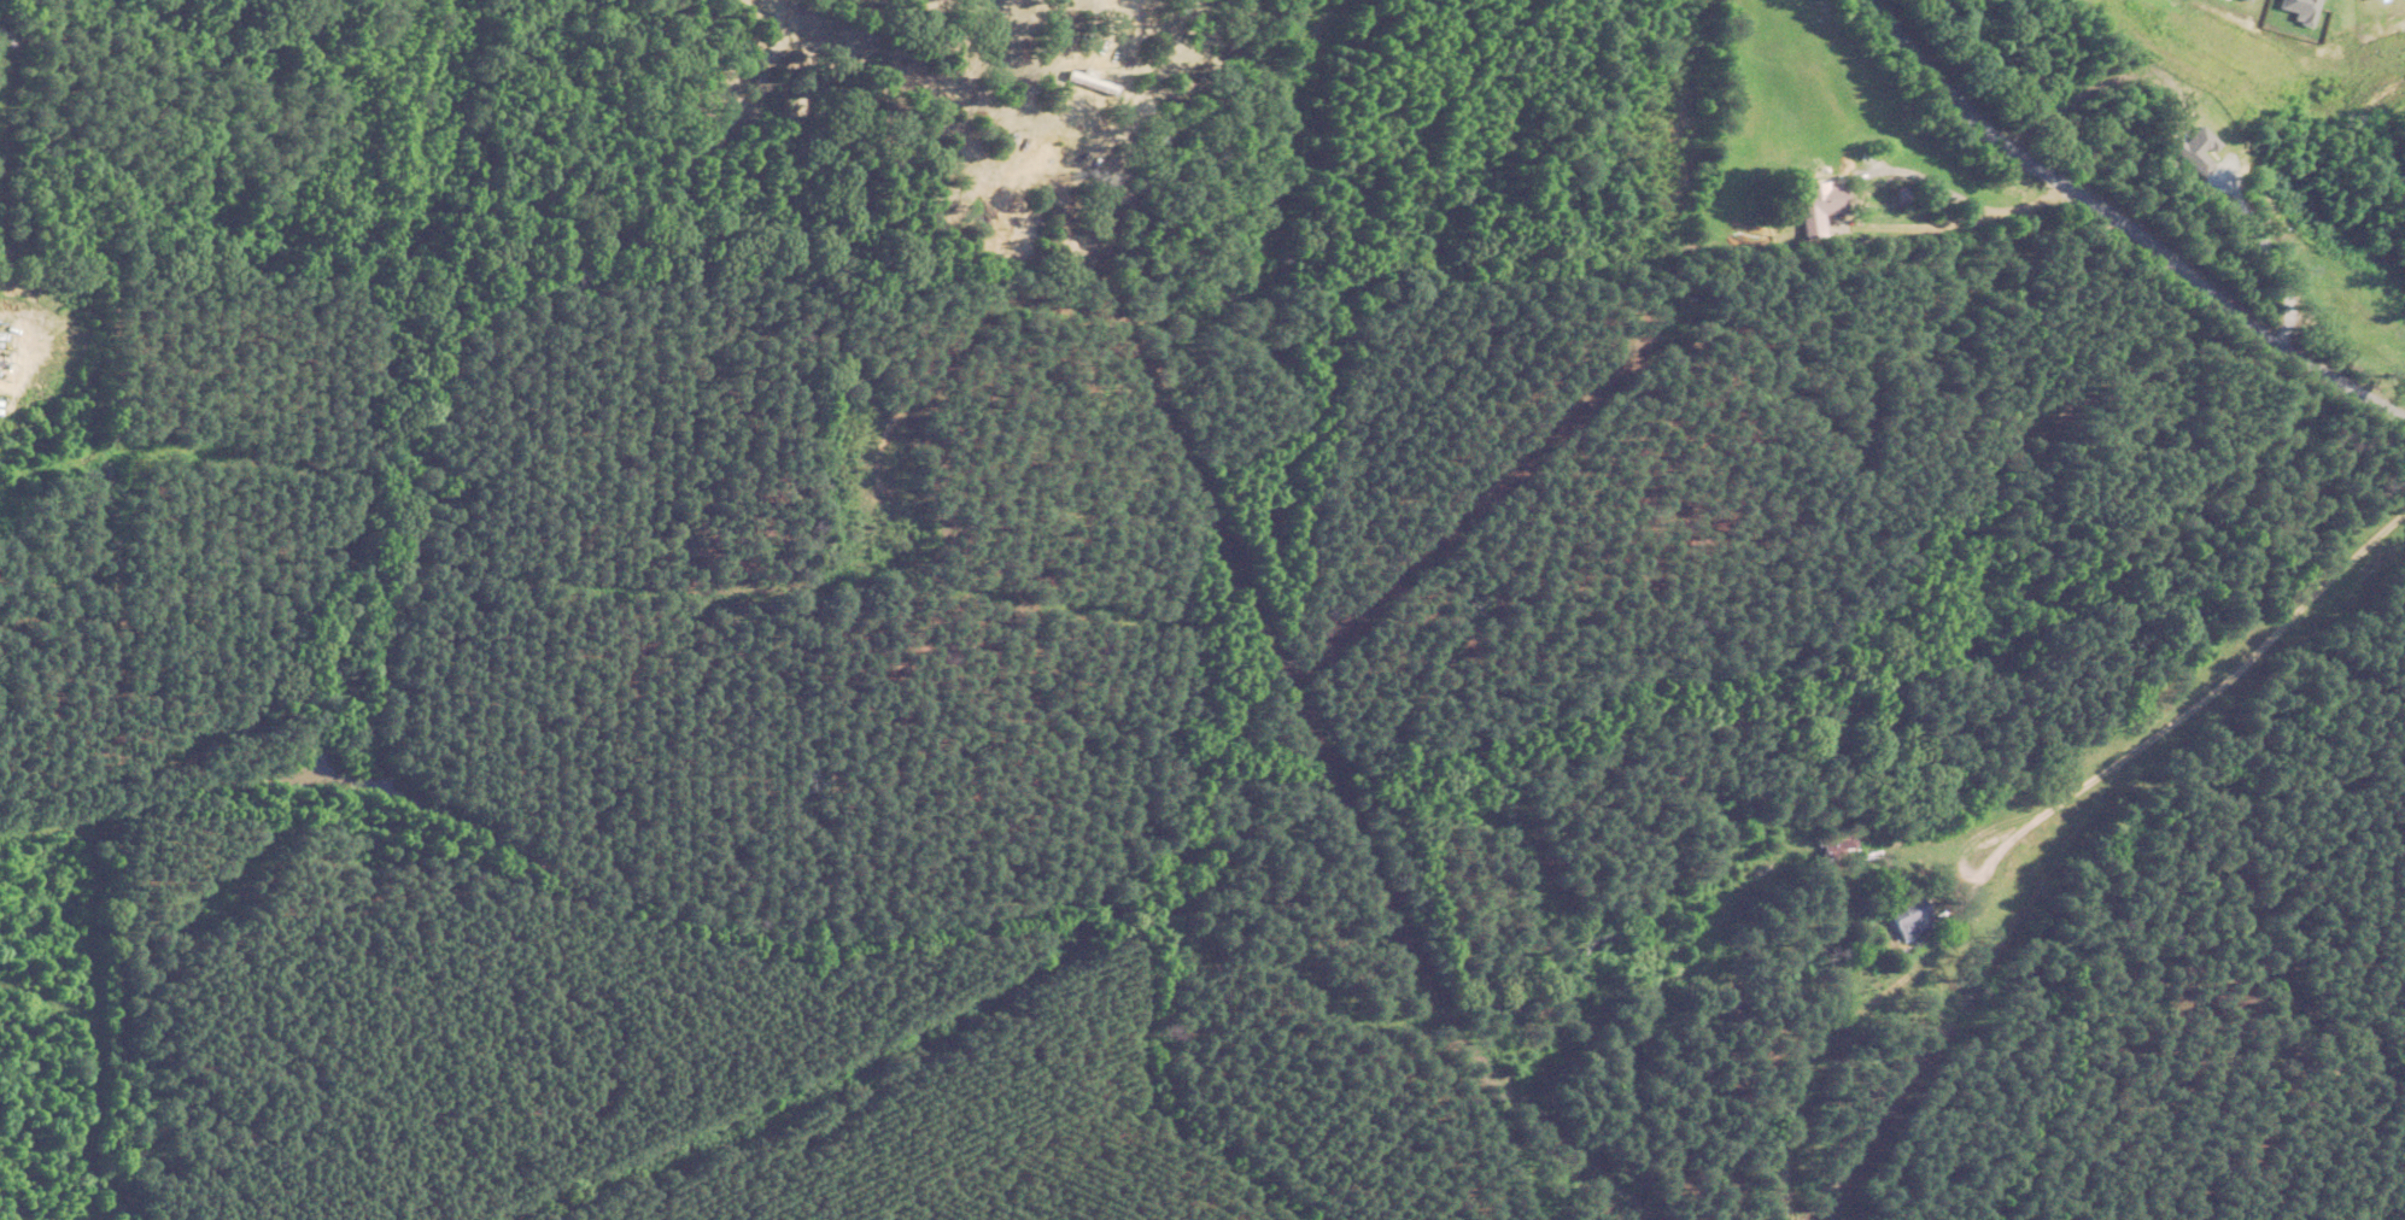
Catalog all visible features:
road: (2087, 83)
building: (1801, 200)
road: (1942, 204)
road: (2113, 230)
road: (2188, 706)
building: (1903, 917)
road: (1830, 1036)

